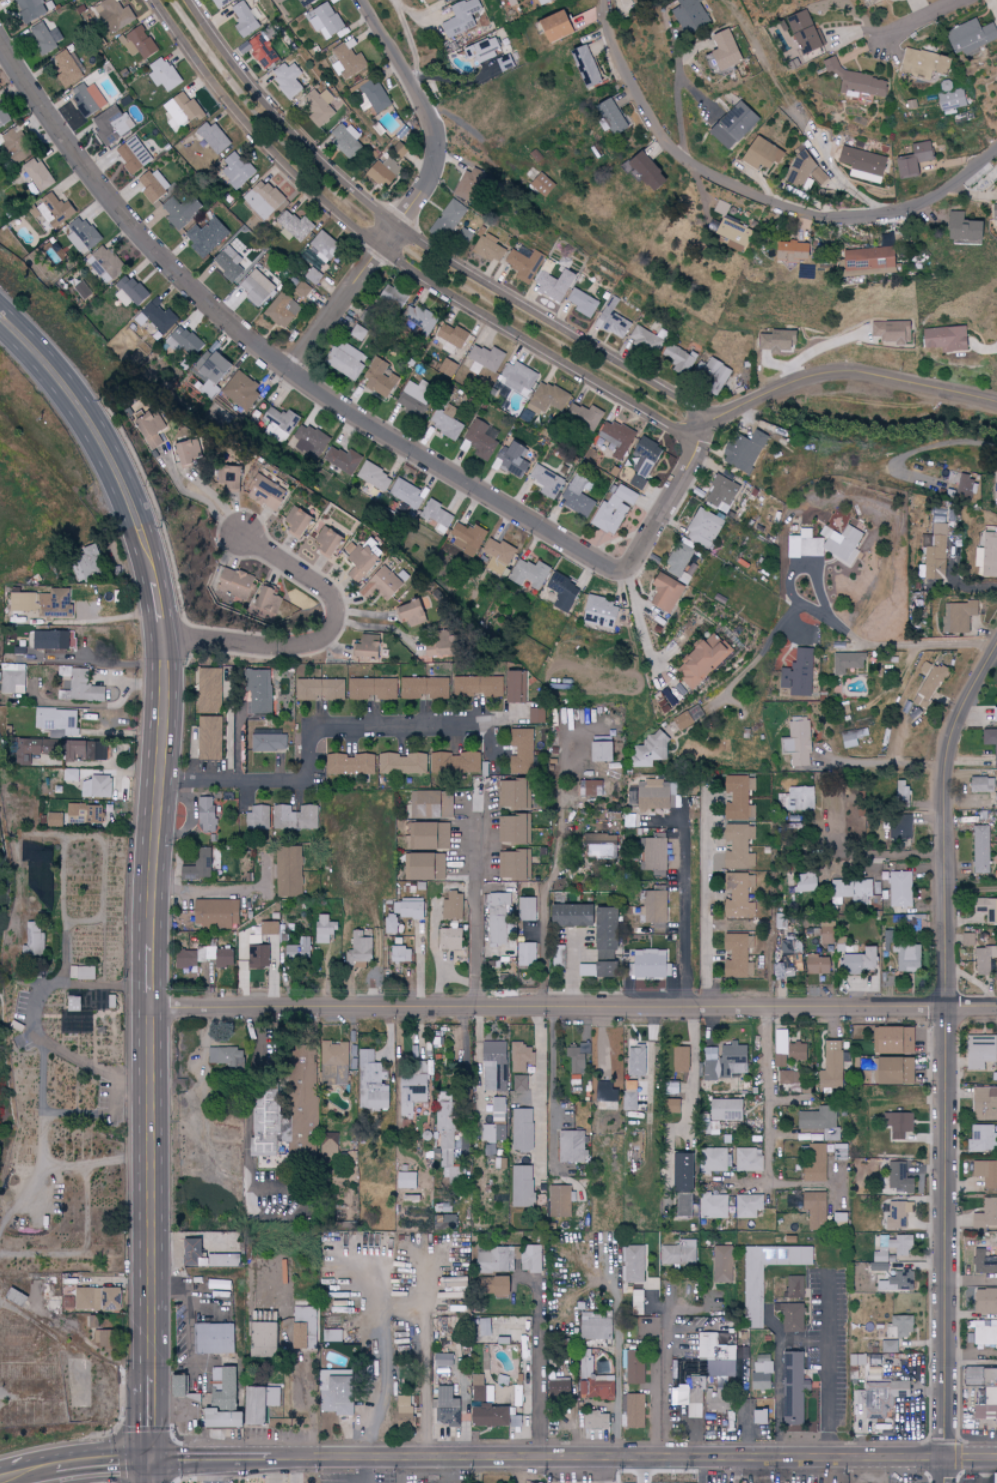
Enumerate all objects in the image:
building: (865, 0)
building: (428, 1)
building: (636, 1)
building: (304, 2)
building: (543, 2)
building: (223, 3)
building: (31, 9)
building: (113, 15)
building: (691, 15)
building: (460, 18)
road: (916, 19)
building: (246, 20)
building: (325, 20)
building: (549, 26)
building: (801, 32)
building: (969, 36)
building: (45, 38)
building: (140, 43)
road: (412, 44)
building: (124, 48)
building: (481, 49)
building: (722, 50)
building: (263, 51)
road: (764, 60)
building: (505, 63)
building: (923, 63)
building: (347, 64)
building: (580, 66)
building: (68, 67)
building: (164, 74)
building: (287, 80)
building: (854, 80)
building: (376, 97)
building: (87, 98)
building: (950, 99)
building: (319, 107)
building: (182, 110)
building: (609, 116)
building: (1, 121)
building: (111, 126)
building: (731, 126)
building: (213, 137)
building: (345, 140)
building: (758, 153)
building: (132, 155)
building: (912, 160)
building: (863, 164)
building: (237, 170)
building: (644, 171)
building: (383, 172)
building: (805, 173)
building: (38, 175)
building: (472, 177)
building: (153, 184)
building: (540, 185)
road: (415, 196)
road: (757, 196)
building: (262, 199)
building: (721, 208)
building: (58, 209)
building: (180, 210)
building: (995, 210)
building: (451, 216)
building: (295, 226)
building: (959, 229)
building: (735, 234)
building: (81, 235)
building: (465, 236)
building: (206, 237)
road: (418, 240)
building: (322, 246)
building: (488, 249)
building: (789, 251)
road: (394, 254)
building: (869, 261)
building: (228, 263)
building: (106, 264)
building: (524, 265)
building: (313, 276)
building: (554, 285)
building: (258, 286)
building: (83, 289)
building: (302, 289)
building: (130, 292)
building: (392, 298)
building: (583, 303)
building: (282, 311)
building: (612, 319)
building: (156, 320)
building: (421, 320)
building: (892, 332)
building: (451, 335)
building: (944, 338)
building: (647, 340)
building: (183, 341)
building: (777, 341)
road: (986, 343)
building: (445, 347)
road: (821, 351)
building: (486, 357)
building: (680, 359)
building: (343, 360)
road: (273, 361)
building: (211, 368)
building: (447, 368)
building: (714, 373)
road: (842, 374)
building: (519, 378)
building: (378, 379)
building: (240, 390)
building: (417, 398)
building: (547, 398)
power tower: (106, 400)
building: (585, 416)
building: (282, 419)
building: (445, 423)
building: (153, 432)
road: (97, 439)
building: (481, 439)
building: (614, 439)
building: (310, 441)
road: (922, 447)
building: (744, 452)
building: (643, 456)
building: (511, 458)
building: (344, 460)
building: (228, 477)
building: (375, 477)
building: (546, 482)
building: (636, 485)
building: (996, 488)
building: (969, 491)
building: (722, 492)
building: (408, 493)
road: (669, 495)
road: (200, 497)
building: (576, 499)
building: (612, 510)
building: (436, 513)
building: (297, 523)
building: (705, 528)
building: (468, 538)
building: (327, 543)
building: (823, 544)
building: (936, 553)
building: (498, 556)
building: (988, 556)
building: (89, 563)
building: (358, 563)
building: (682, 564)
building: (531, 573)
building: (233, 582)
building: (380, 584)
building: (563, 592)
building: (665, 593)
building: (43, 602)
building: (268, 602)
road: (156, 612)
building: (599, 612)
building: (410, 615)
road: (642, 616)
building: (958, 616)
road: (320, 639)
building: (50, 640)
road: (883, 644)
building: (365, 647)
road: (758, 649)
building: (20, 650)
building: (702, 660)
building: (843, 663)
building: (798, 674)
building: (13, 678)
building: (81, 685)
building: (467, 686)
building: (931, 686)
building: (502, 687)
building: (360, 688)
building: (412, 688)
building: (438, 688)
building: (320, 689)
building: (385, 689)
building: (211, 690)
building: (61, 691)
building: (259, 692)
building: (994, 715)
building: (536, 716)
building: (686, 718)
building: (58, 722)
road: (326, 725)
building: (862, 733)
building: (209, 738)
building: (268, 740)
building: (849, 740)
building: (990, 741)
building: (799, 742)
building: (64, 750)
building: (521, 751)
building: (651, 751)
building: (598, 752)
building: (95, 753)
road: (884, 762)
building: (457, 763)
building: (351, 764)
building: (404, 764)
building: (71, 775)
building: (95, 784)
building: (589, 788)
building: (983, 789)
building: (901, 793)
road: (158, 794)
building: (510, 795)
building: (652, 795)
building: (740, 797)
building: (802, 798)
building: (432, 805)
building: (87, 813)
building: (258, 817)
building: (296, 817)
building: (55, 820)
building: (900, 828)
building: (510, 830)
building: (429, 836)
building: (602, 847)
building: (741, 847)
building: (980, 850)
road: (876, 851)
building: (653, 855)
building: (199, 865)
building: (510, 865)
building: (425, 867)
road: (555, 870)
building: (288, 872)
building: (805, 882)
road: (210, 888)
road: (480, 888)
building: (850, 889)
building: (901, 889)
road: (971, 892)
building: (740, 896)
building: (499, 903)
building: (452, 907)
building: (407, 908)
building: (527, 909)
building: (986, 909)
building: (654, 911)
road: (691, 913)
building: (215, 914)
building: (903, 923)
building: (391, 924)
building: (588, 926)
building: (269, 928)
building: (324, 929)
building: (500, 932)
building: (829, 933)
building: (451, 939)
building: (967, 940)
building: (33, 942)
building: (300, 949)
building: (359, 951)
building: (401, 954)
building: (526, 954)
building: (216, 955)
building: (738, 955)
building: (257, 956)
building: (558, 956)
building: (793, 957)
building: (185, 959)
building: (908, 960)
building: (857, 962)
building: (982, 962)
building: (651, 964)
road: (574, 965)
building: (818, 965)
building: (593, 970)
building: (780, 970)
building: (82, 973)
road: (151, 975)
road: (574, 1002)
road: (33, 1018)
building: (72, 1018)
building: (892, 1039)
road: (945, 1046)
building: (791, 1049)
building: (978, 1051)
building: (225, 1056)
building: (521, 1057)
building: (580, 1059)
building: (679, 1059)
road: (480, 1061)
building: (726, 1061)
building: (636, 1062)
building: (332, 1064)
building: (832, 1065)
building: (494, 1066)
building: (892, 1070)
road: (466, 1076)
building: (791, 1079)
building: (370, 1081)
building: (520, 1082)
building: (631, 1085)
road: (540, 1087)
road: (552, 1087)
building: (671, 1087)
road: (767, 1092)
building: (410, 1093)
road: (691, 1096)
building: (606, 1098)
building: (630, 1101)
building: (984, 1103)
building: (672, 1106)
building: (498, 1109)
building: (725, 1109)
road: (65, 1112)
building: (818, 1118)
building: (897, 1125)
building: (712, 1128)
building: (522, 1129)
building: (448, 1133)
building: (493, 1138)
road: (42, 1139)
building: (982, 1139)
building: (301, 1140)
building: (329, 1142)
road: (152, 1145)
building: (572, 1146)
building: (714, 1160)
building: (749, 1160)
road: (59, 1164)
road: (251, 1164)
building: (816, 1164)
building: (679, 1172)
building: (986, 1173)
building: (896, 1176)
building: (407, 1180)
road: (815, 1183)
building: (522, 1186)
building: (560, 1200)
building: (792, 1200)
building: (682, 1205)
building: (714, 1206)
building: (748, 1206)
building: (814, 1210)
building: (986, 1213)
building: (896, 1214)
building: (838, 1219)
building: (445, 1222)
building: (892, 1247)
road: (84, 1248)
building: (679, 1253)
building: (204, 1256)
building: (528, 1258)
building: (496, 1259)
building: (985, 1262)
building: (634, 1263)
building: (723, 1264)
building: (878, 1266)
building: (281, 1271)
building: (68, 1279)
building: (896, 1282)
building: (219, 1284)
building: (496, 1286)
building: (794, 1286)
building: (753, 1296)
building: (93, 1299)
building: (718, 1300)
road: (3, 1301)
building: (986, 1301)
road: (402, 1302)
building: (637, 1302)
road: (191, 1313)
building: (790, 1316)
building: (308, 1317)
building: (901, 1325)
building: (597, 1327)
road: (153, 1331)
building: (984, 1334)
building: (299, 1335)
building: (333, 1335)
building: (212, 1338)
building: (264, 1338)
building: (889, 1346)
building: (351, 1351)
building: (718, 1353)
building: (443, 1360)
road: (828, 1361)
road: (538, 1363)
building: (588, 1366)
building: (632, 1368)
road: (667, 1371)
building: (762, 1373)
road: (780, 1379)
building: (601, 1387)
building: (985, 1387)
building: (560, 1388)
building: (794, 1388)
building: (481, 1389)
building: (223, 1390)
building: (340, 1393)
building: (271, 1396)
building: (691, 1396)
road: (618, 1397)
building: (413, 1400)
building: (717, 1402)
building: (403, 1404)
building: (252, 1405)
building: (447, 1407)
building: (634, 1410)
building: (756, 1416)
road: (153, 1417)
building: (216, 1418)
building: (595, 1420)
road: (634, 1455)
road: (241, 1458)
traffic signals: (153, 1459)
road: (181, 1459)
road: (76, 1466)
road: (827, 1468)
road: (945, 1468)
road: (985, 1468)
road: (517, 1469)
road: (600, 1469)
road: (645, 1469)
road: (734, 1469)
road: (272, 1470)
road: (294, 1470)
road: (368, 1470)
road: (403, 1470)
road: (152, 1471)
road: (210, 1471)
building: (992, 1478)

